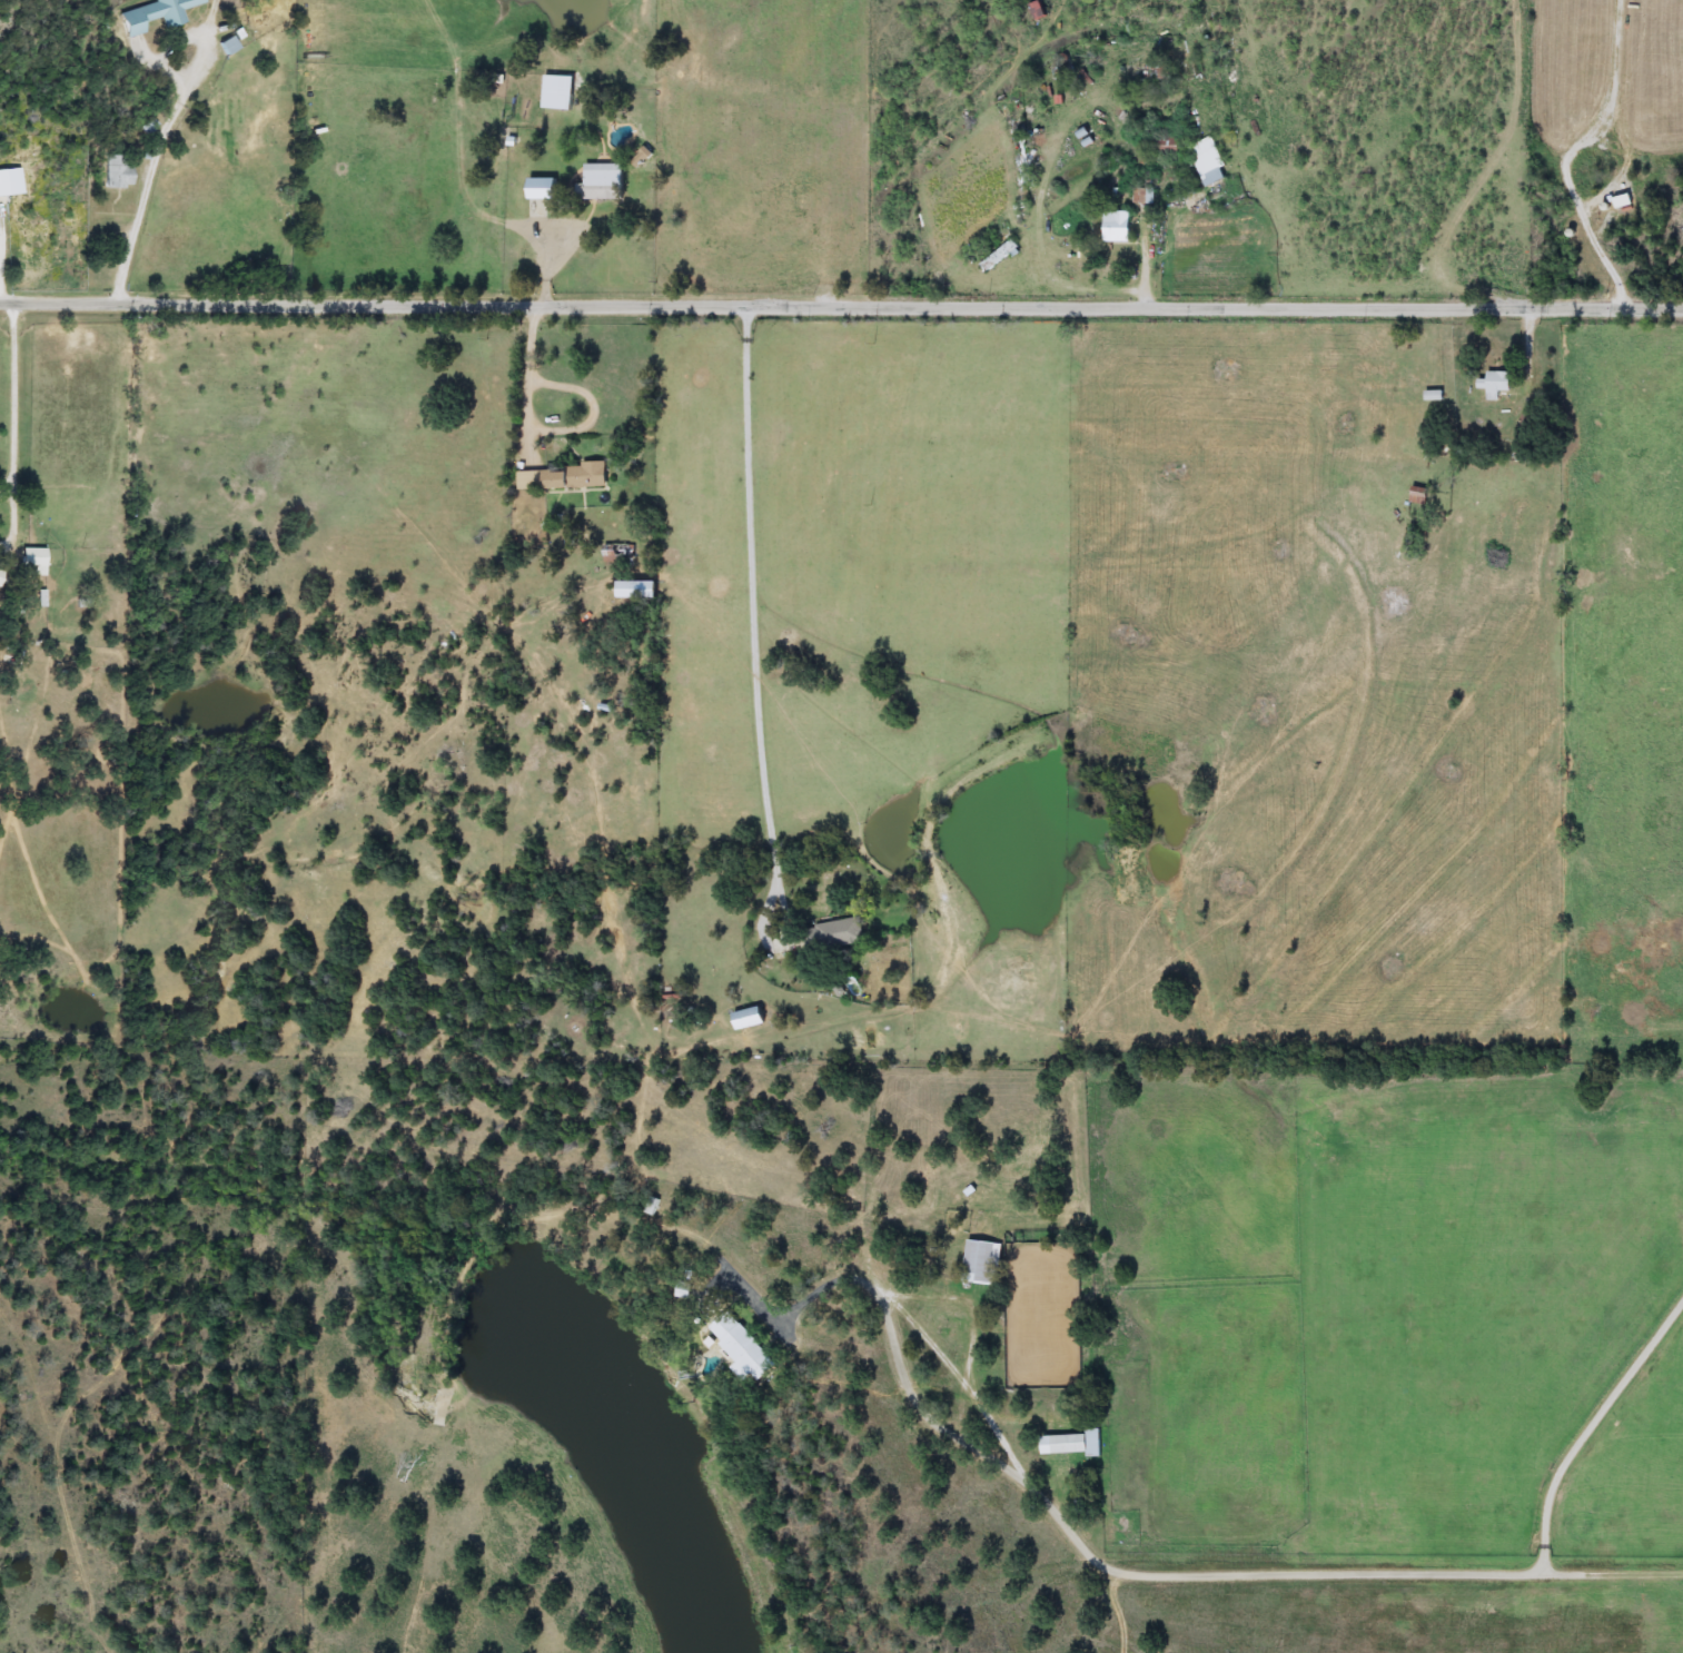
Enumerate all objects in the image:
building: (1040, 10)
building: (157, 14)
building: (558, 92)
road: (159, 146)
building: (1209, 160)
building: (120, 171)
building: (604, 181)
building: (3, 185)
building: (541, 192)
building: (1119, 226)
road: (564, 255)
building: (1001, 256)
road: (1605, 259)
road: (1053, 266)
road: (841, 306)
road: (1531, 348)
building: (1496, 380)
road: (1448, 393)
road: (18, 396)
road: (544, 430)
building: (578, 476)
building: (532, 479)
building: (34, 561)
building: (2, 577)
building: (640, 590)
road: (756, 616)
building: (834, 934)
building: (750, 1018)
building: (982, 1261)
road: (1679, 1305)
building: (741, 1349)
road: (1587, 1434)
building: (1072, 1444)
road: (1159, 1570)
road: (1121, 1611)

